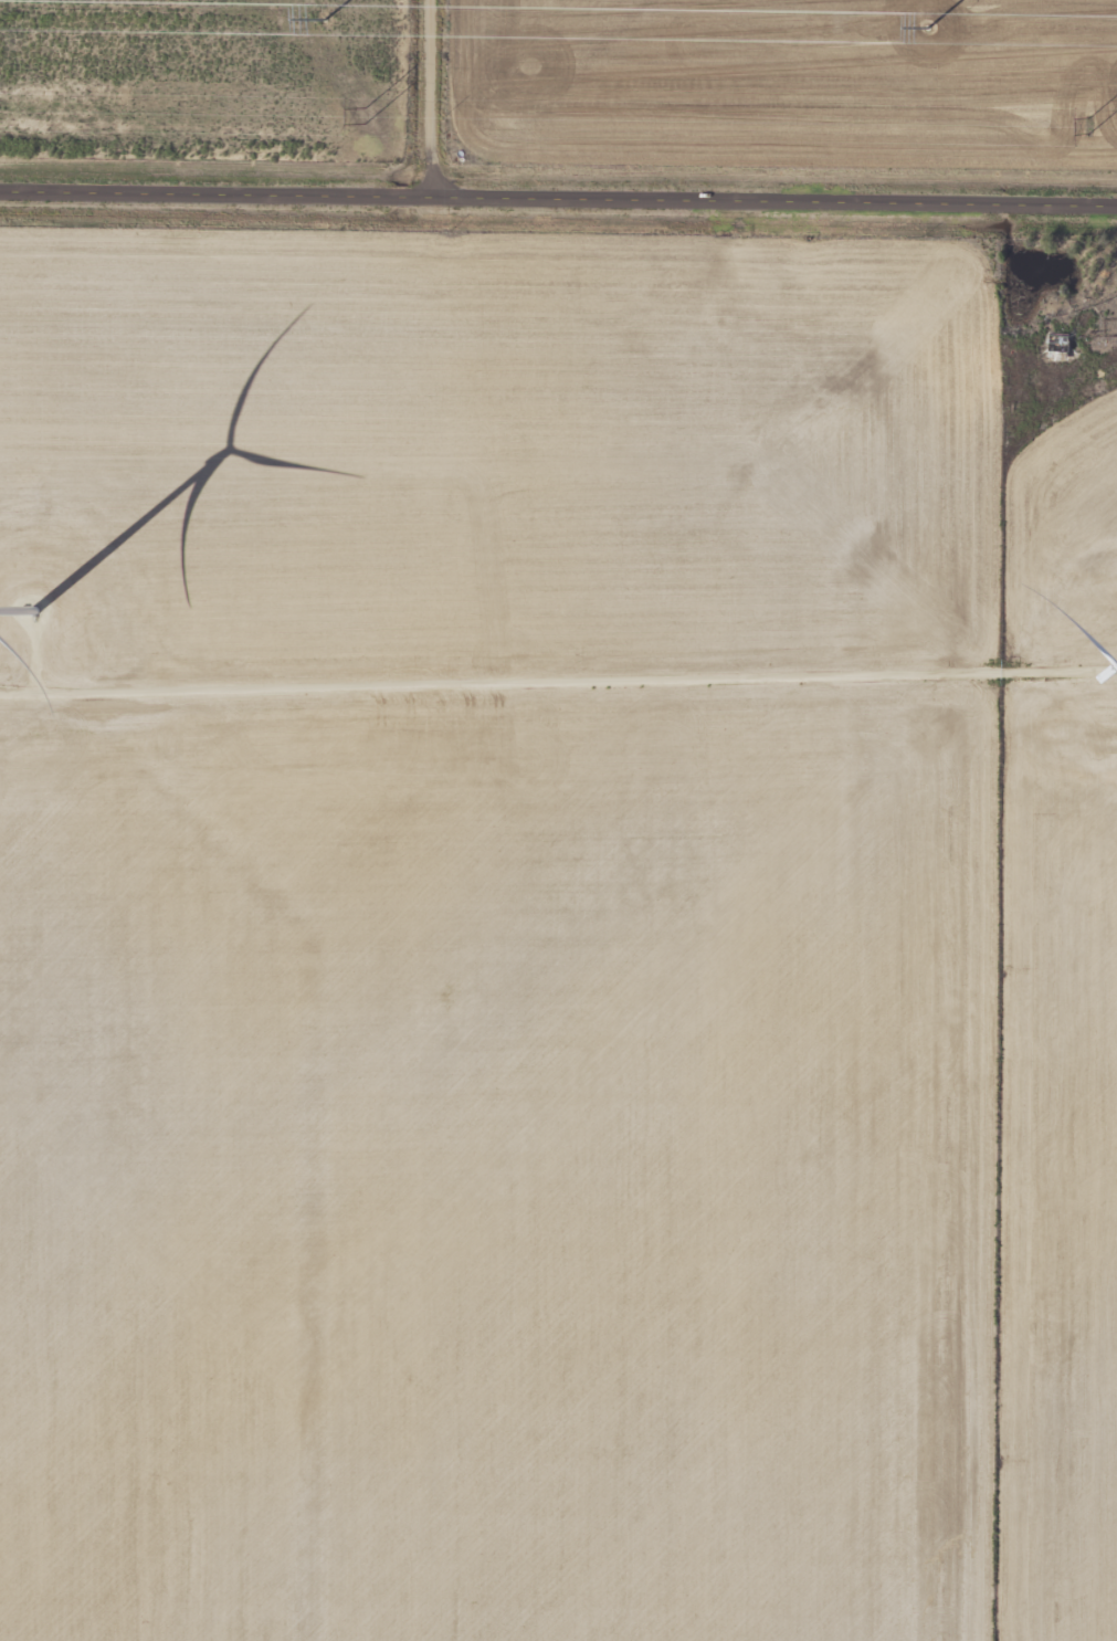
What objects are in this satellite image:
power tower: (325, 19)
power tower: (927, 28)
road: (435, 98)
power tower: (366, 117)
power tower: (1084, 128)
road: (558, 198)
wind turbine: (31, 599)

